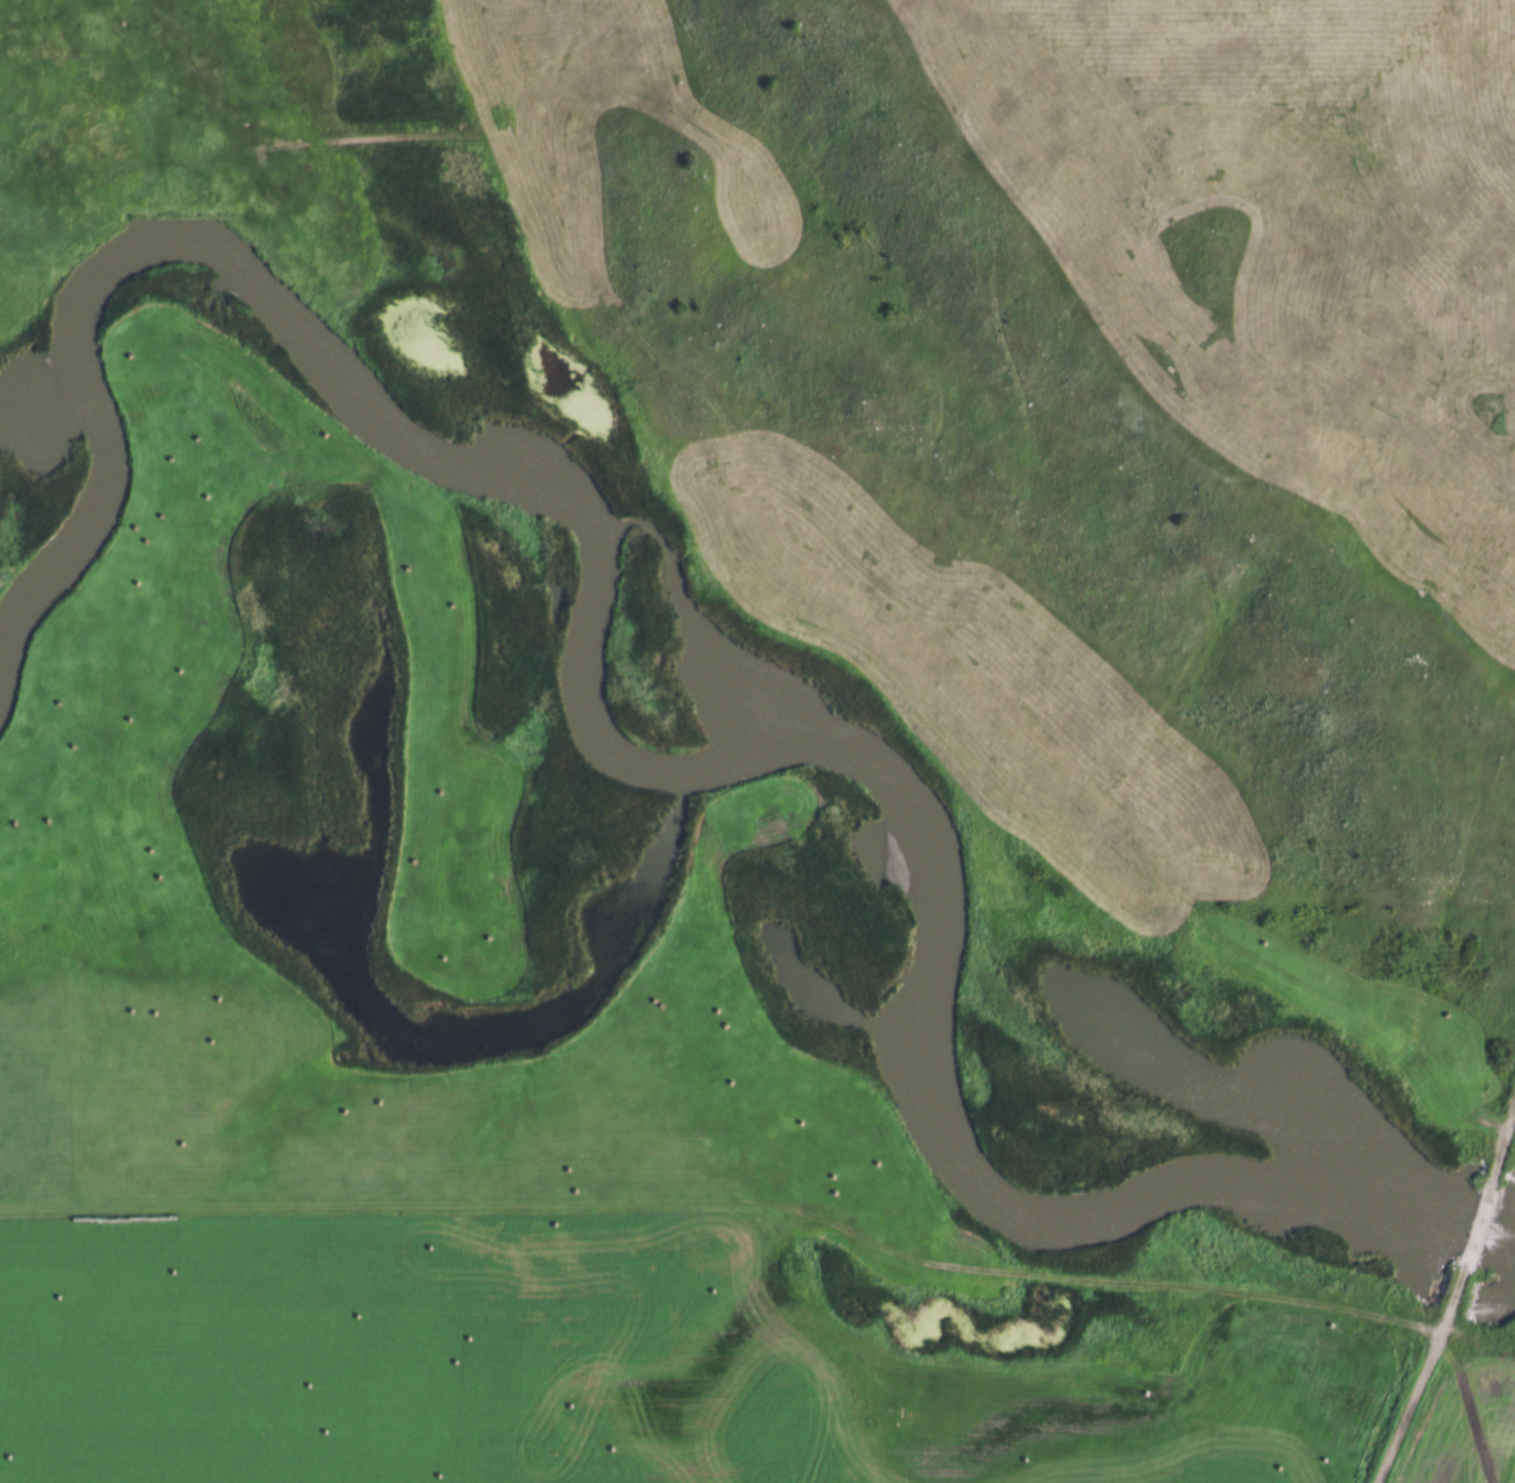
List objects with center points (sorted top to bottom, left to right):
river: (285, 343)
river: (951, 1142)
road: (1452, 1301)

